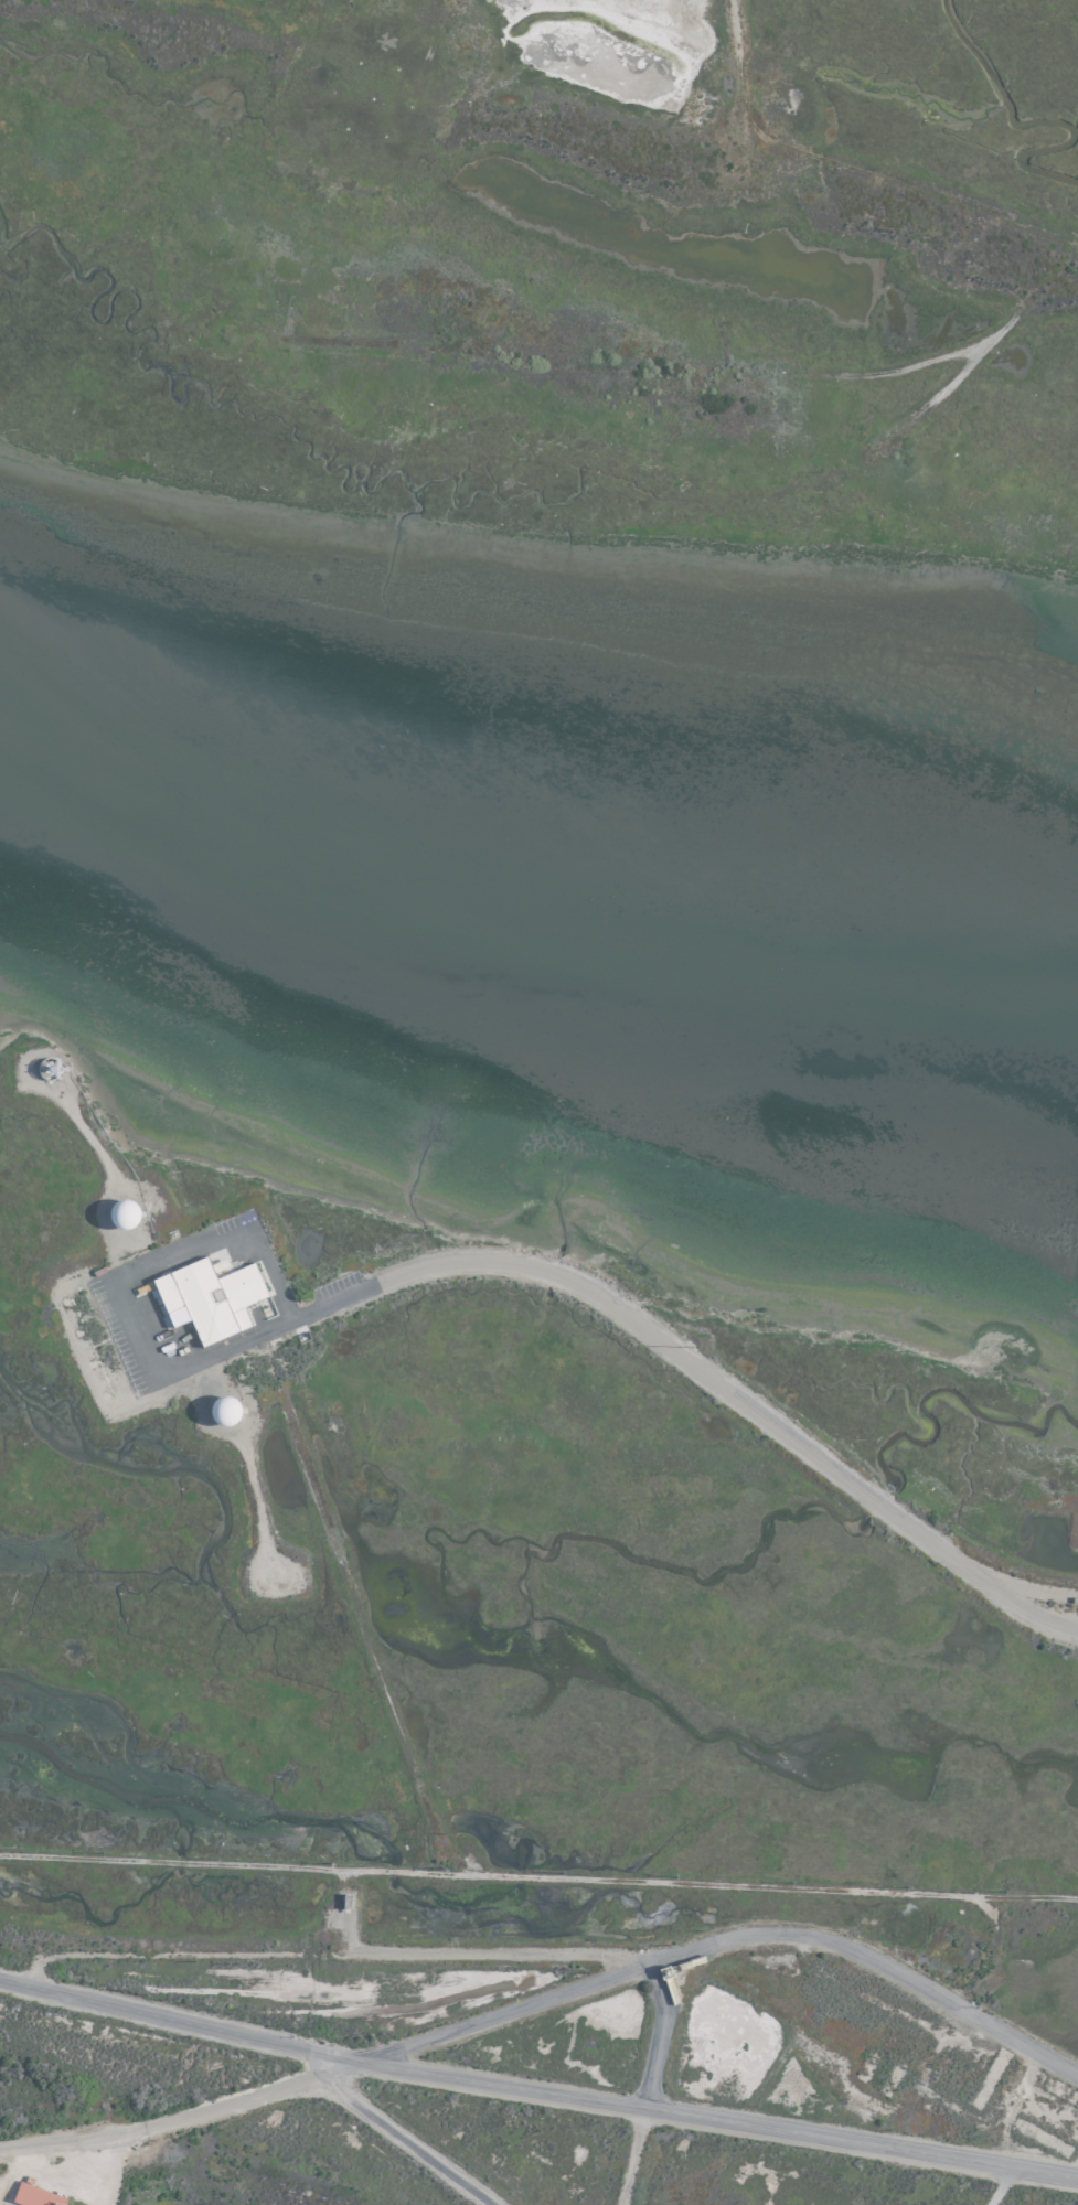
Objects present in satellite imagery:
road: (733, 79)
airport: (538, 1102)
building: (207, 1297)
road: (620, 1314)
road: (349, 1604)
road: (538, 1876)
road: (339, 1954)
road: (549, 1995)
road: (647, 2080)
road: (536, 2091)
road: (405, 2141)
road: (997, 2186)
building: (33, 2194)

